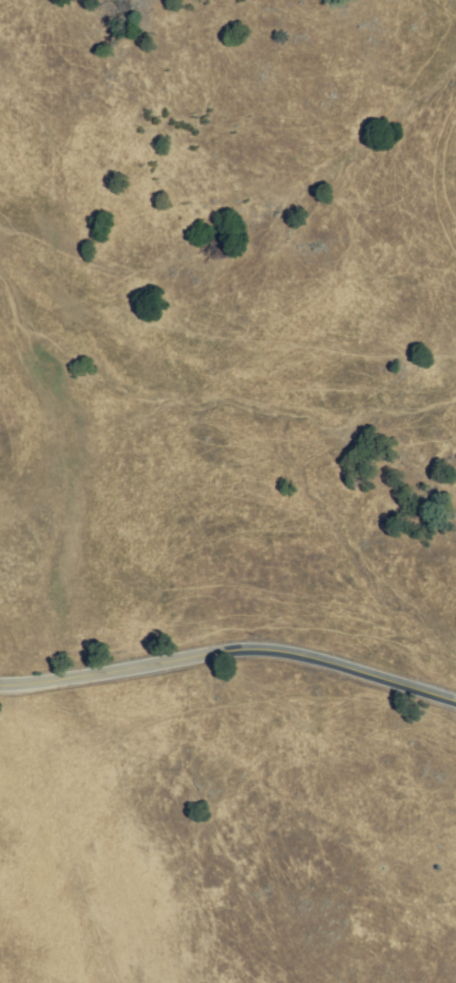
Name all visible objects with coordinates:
road: (230, 654)

